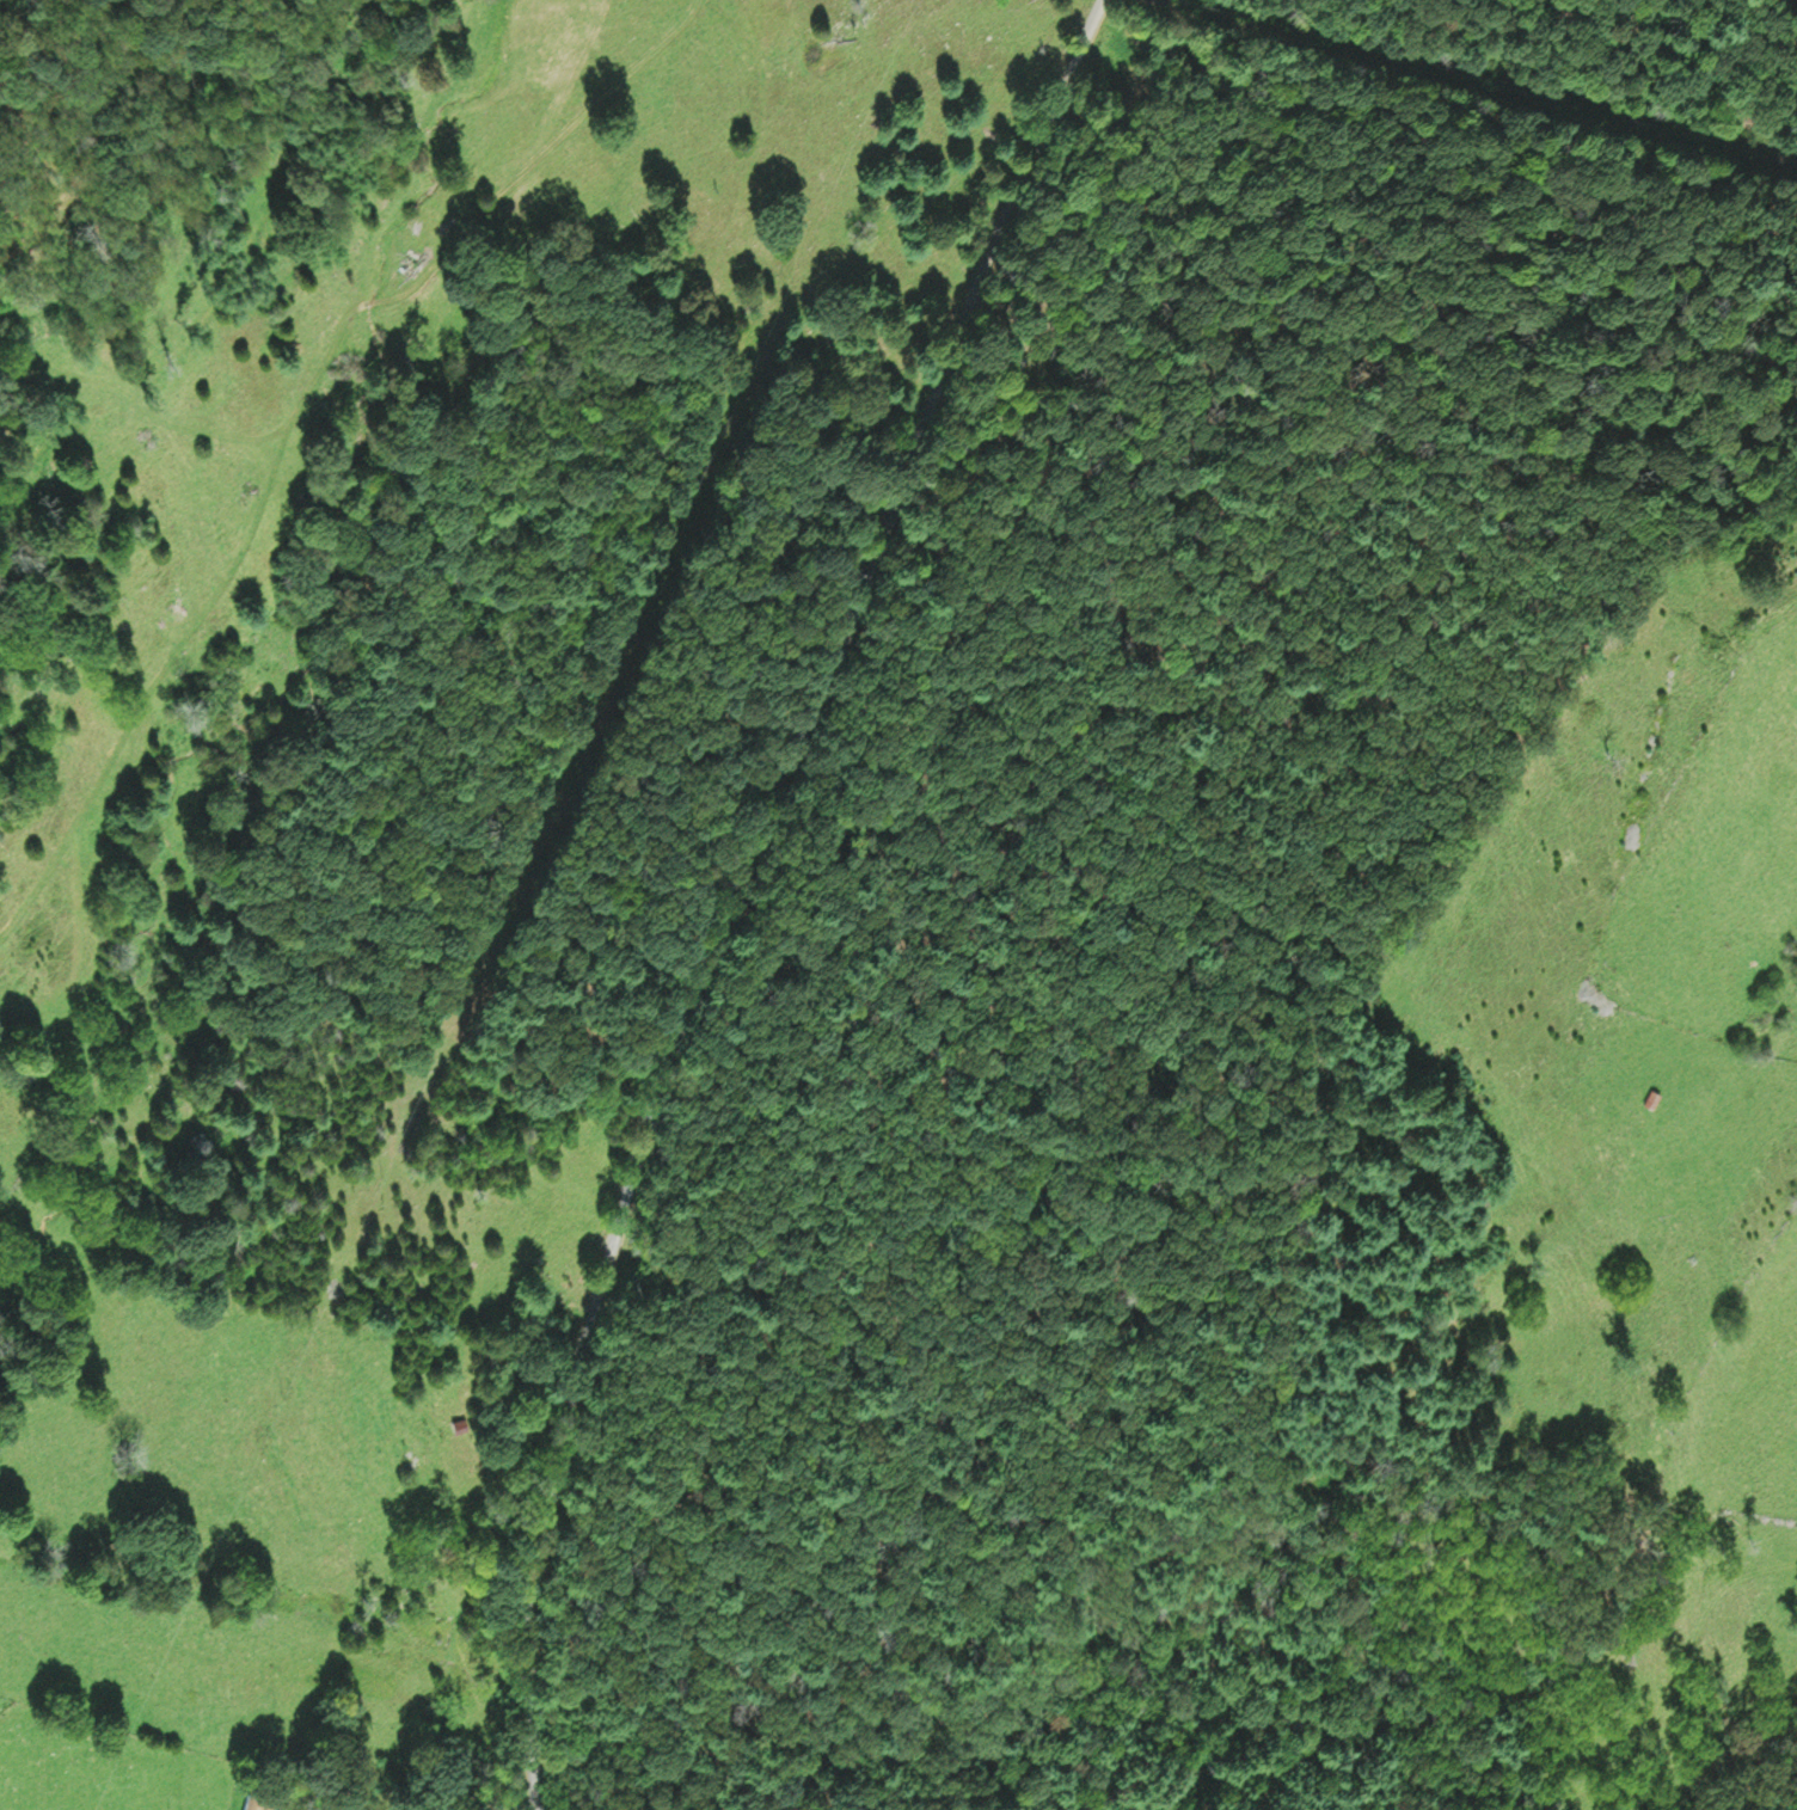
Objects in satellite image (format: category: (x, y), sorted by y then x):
road: (145, 404)
road: (294, 421)
road: (752, 890)
building: (256, 1802)

